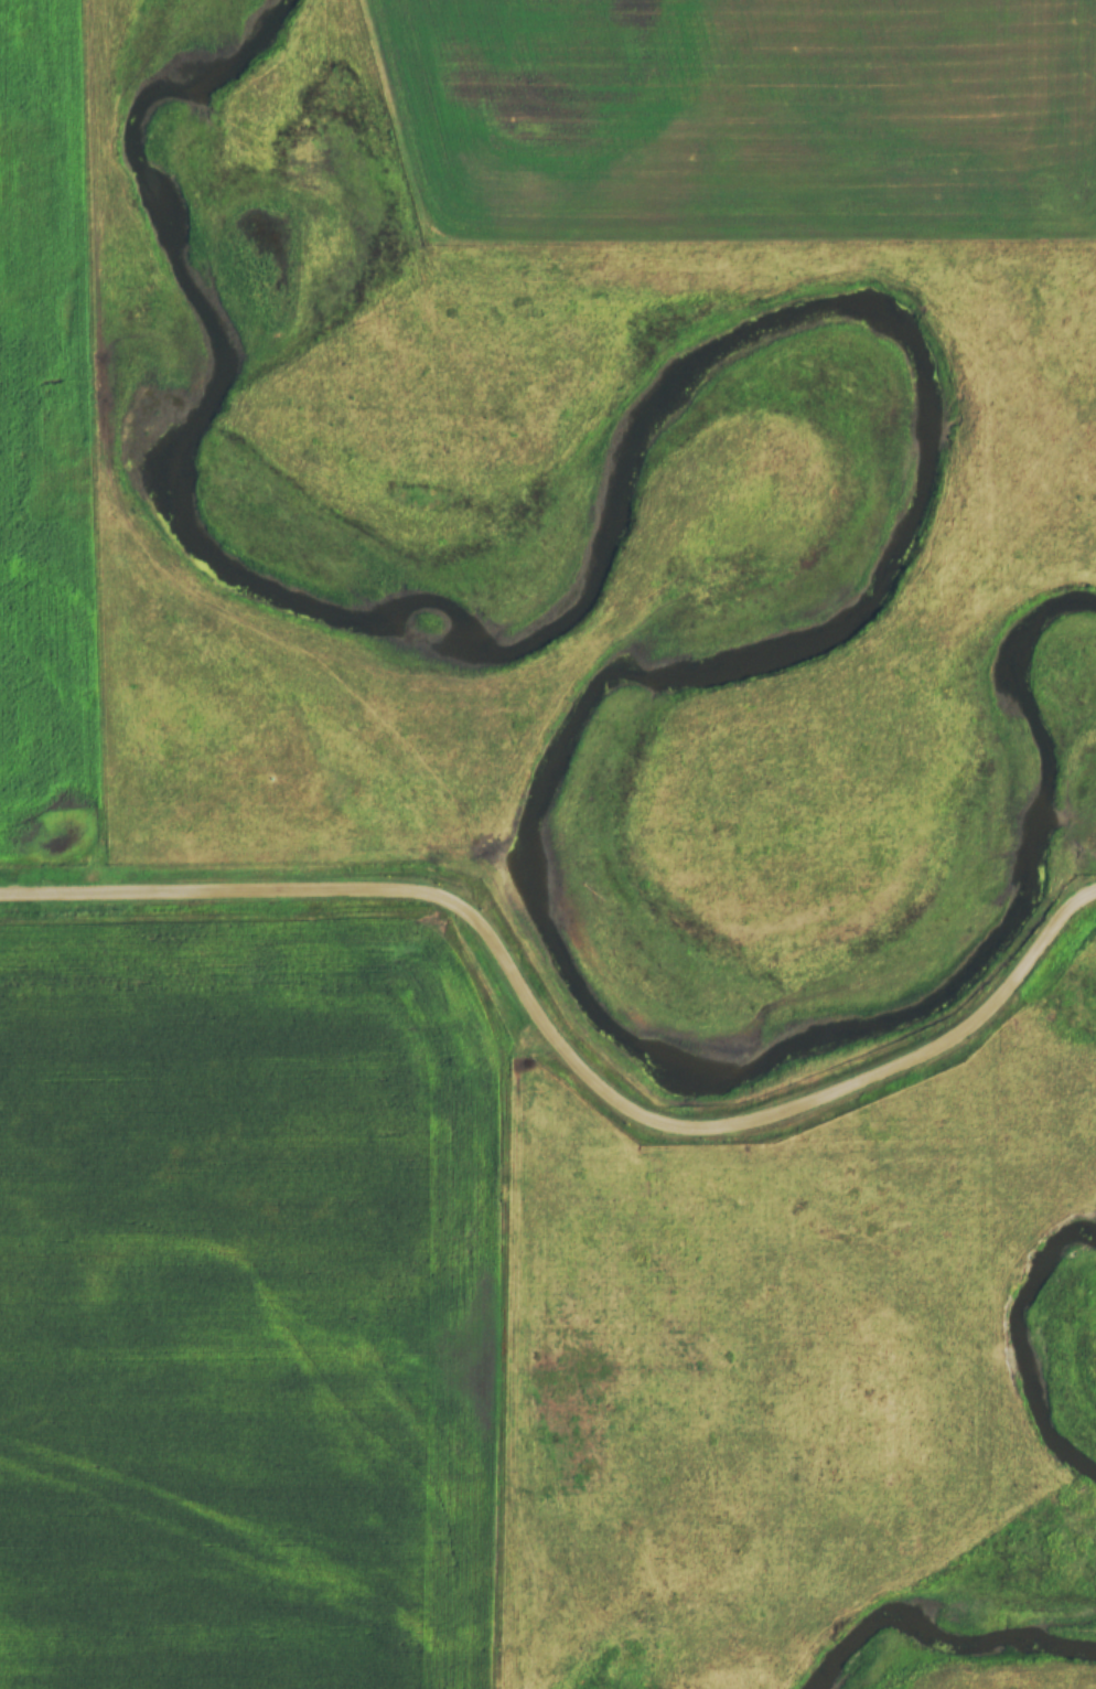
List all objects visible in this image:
river: (921, 414)
road: (562, 1047)
river: (1016, 1346)
river: (932, 1629)

